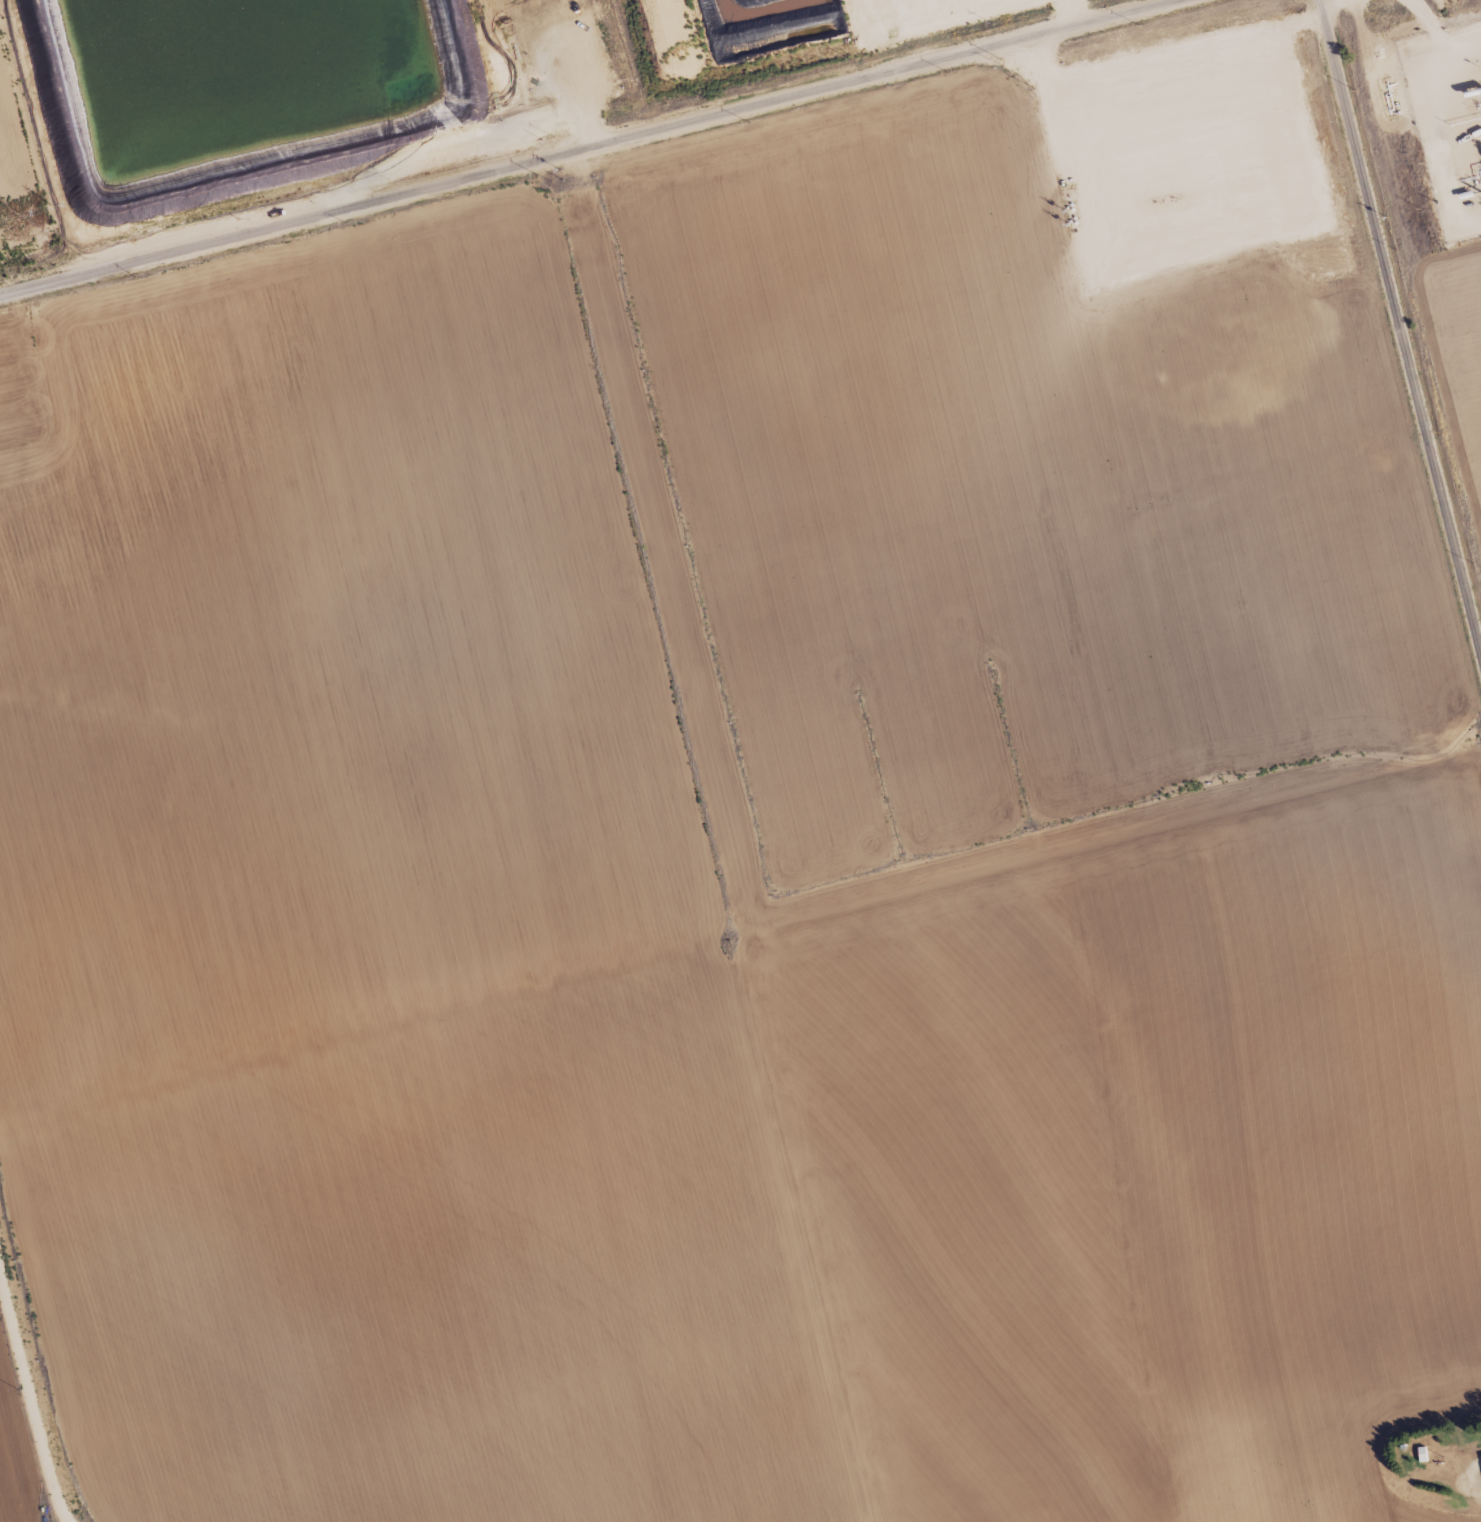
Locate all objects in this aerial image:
road: (591, 146)
road: (1399, 327)
building: (1478, 1484)

